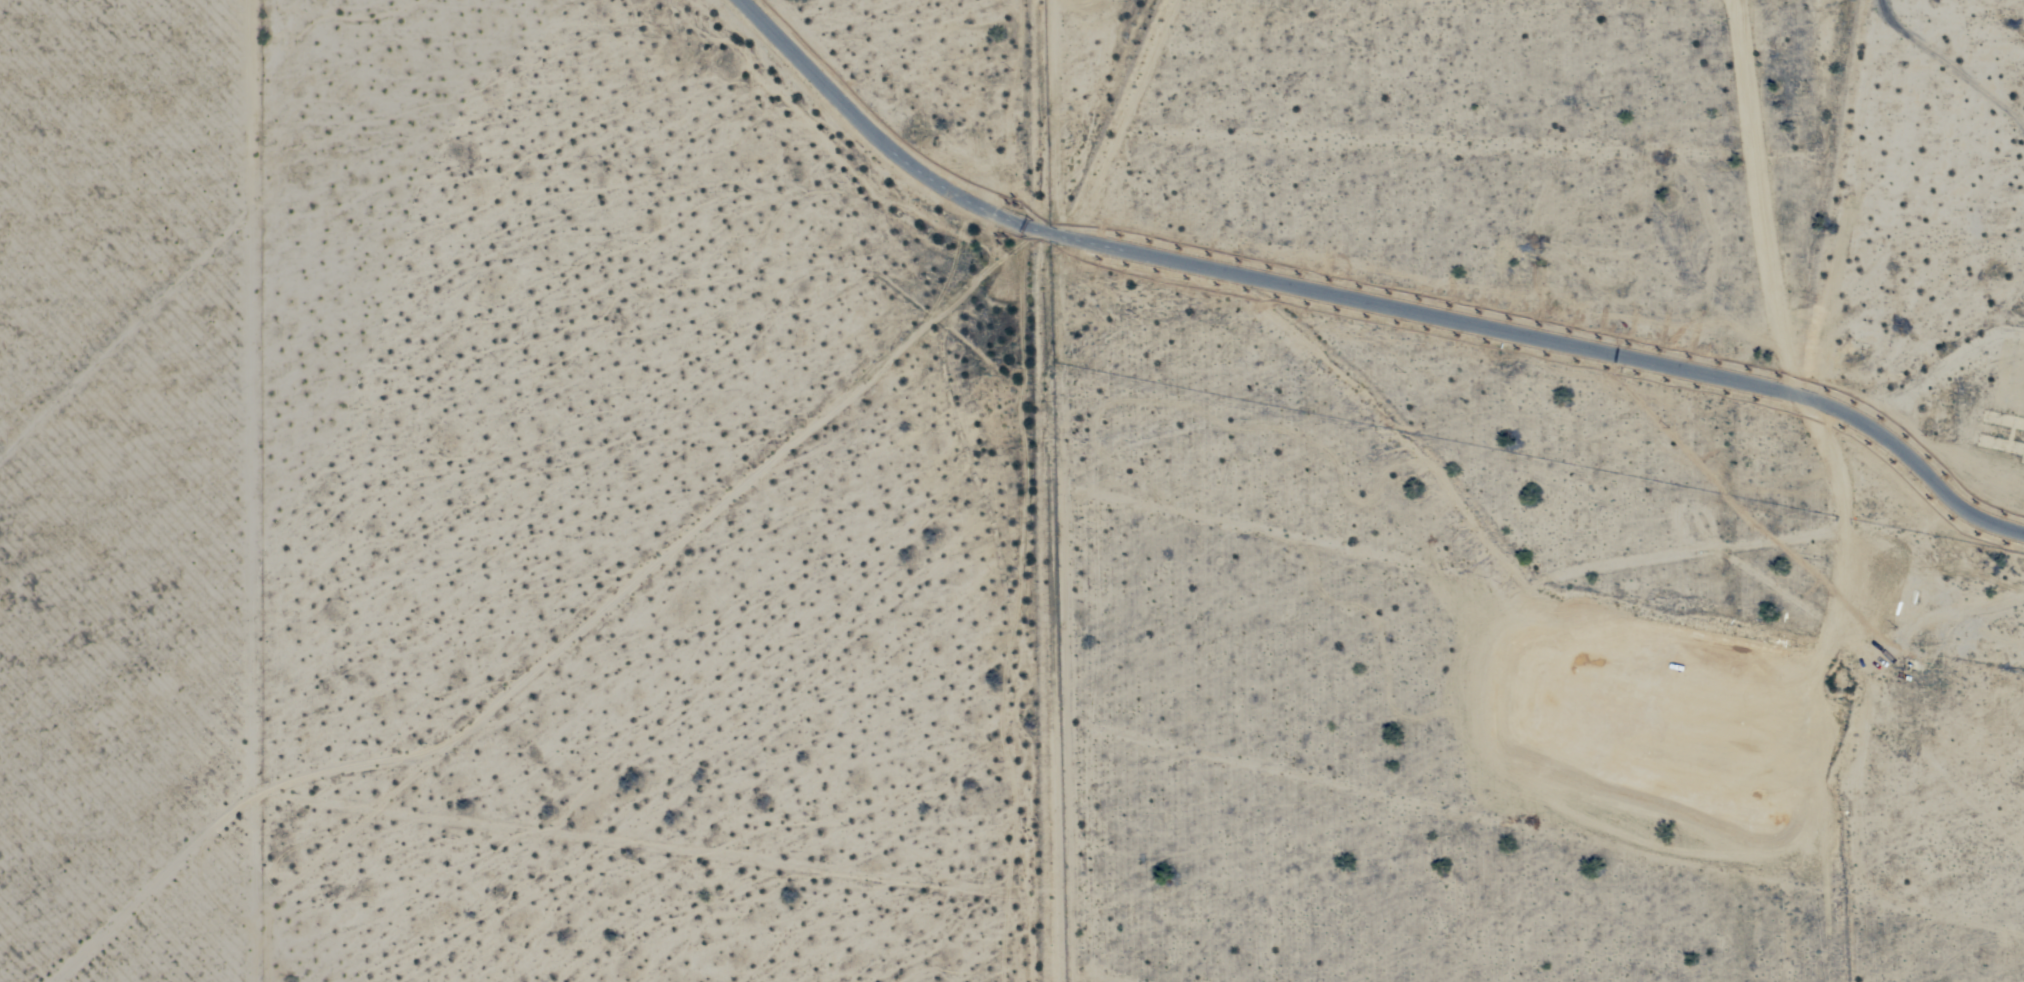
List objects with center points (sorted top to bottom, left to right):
road: (1364, 300)

